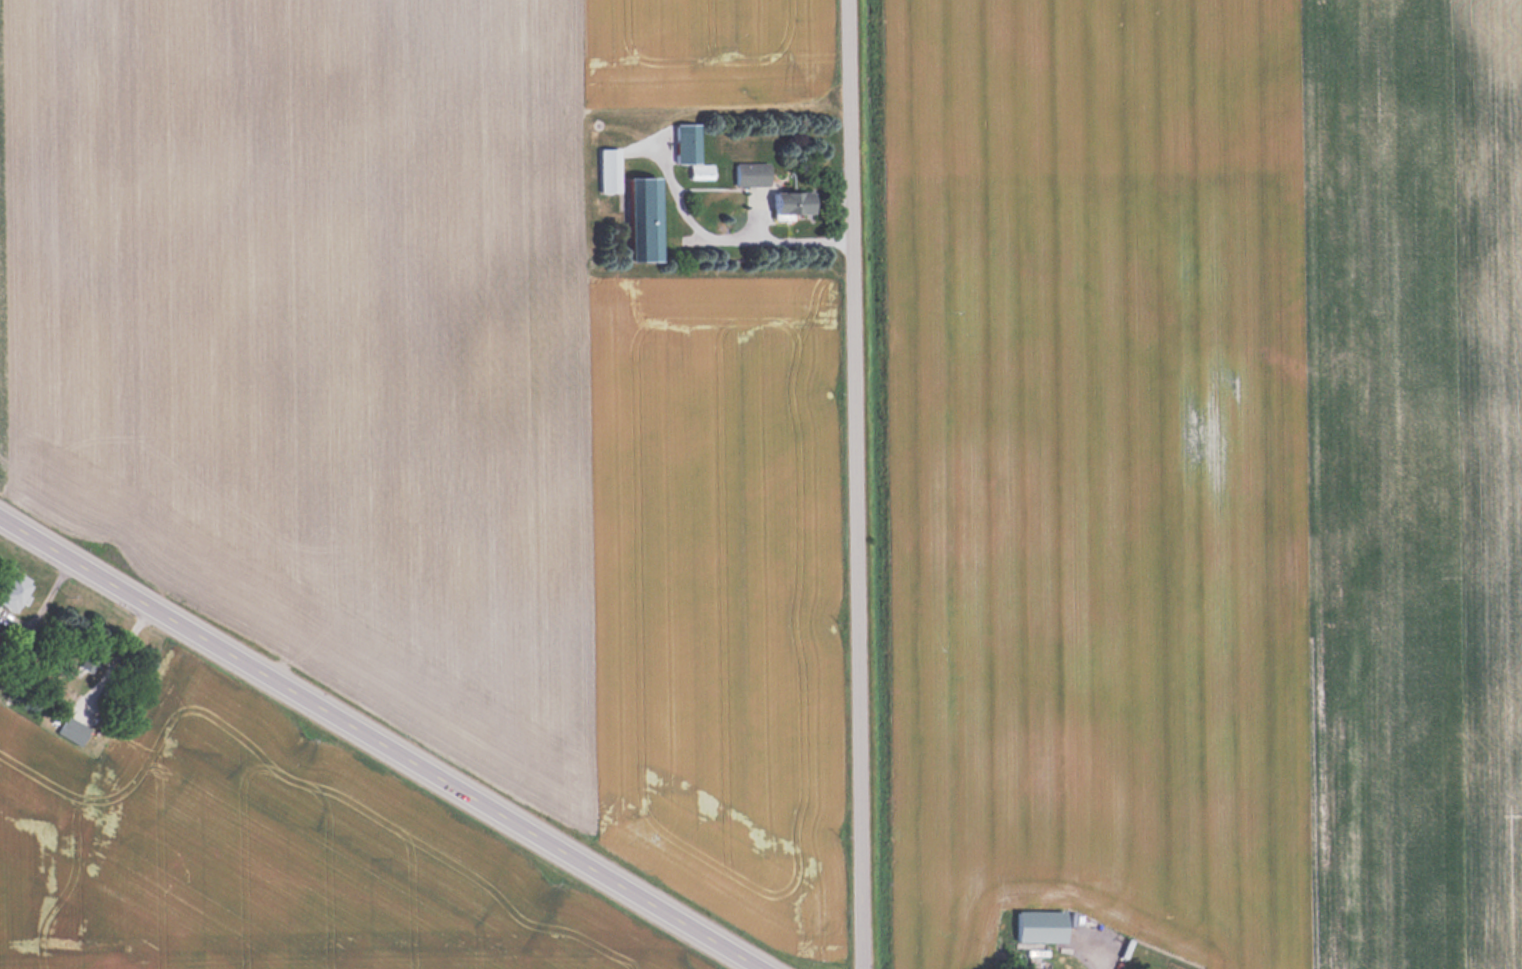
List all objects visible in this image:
building: (692, 150)
building: (611, 170)
building: (752, 173)
road: (676, 195)
building: (794, 203)
building: (645, 218)
road: (771, 239)
road: (860, 484)
building: (15, 590)
building: (88, 664)
building: (75, 730)
road: (376, 745)
building: (1042, 927)

